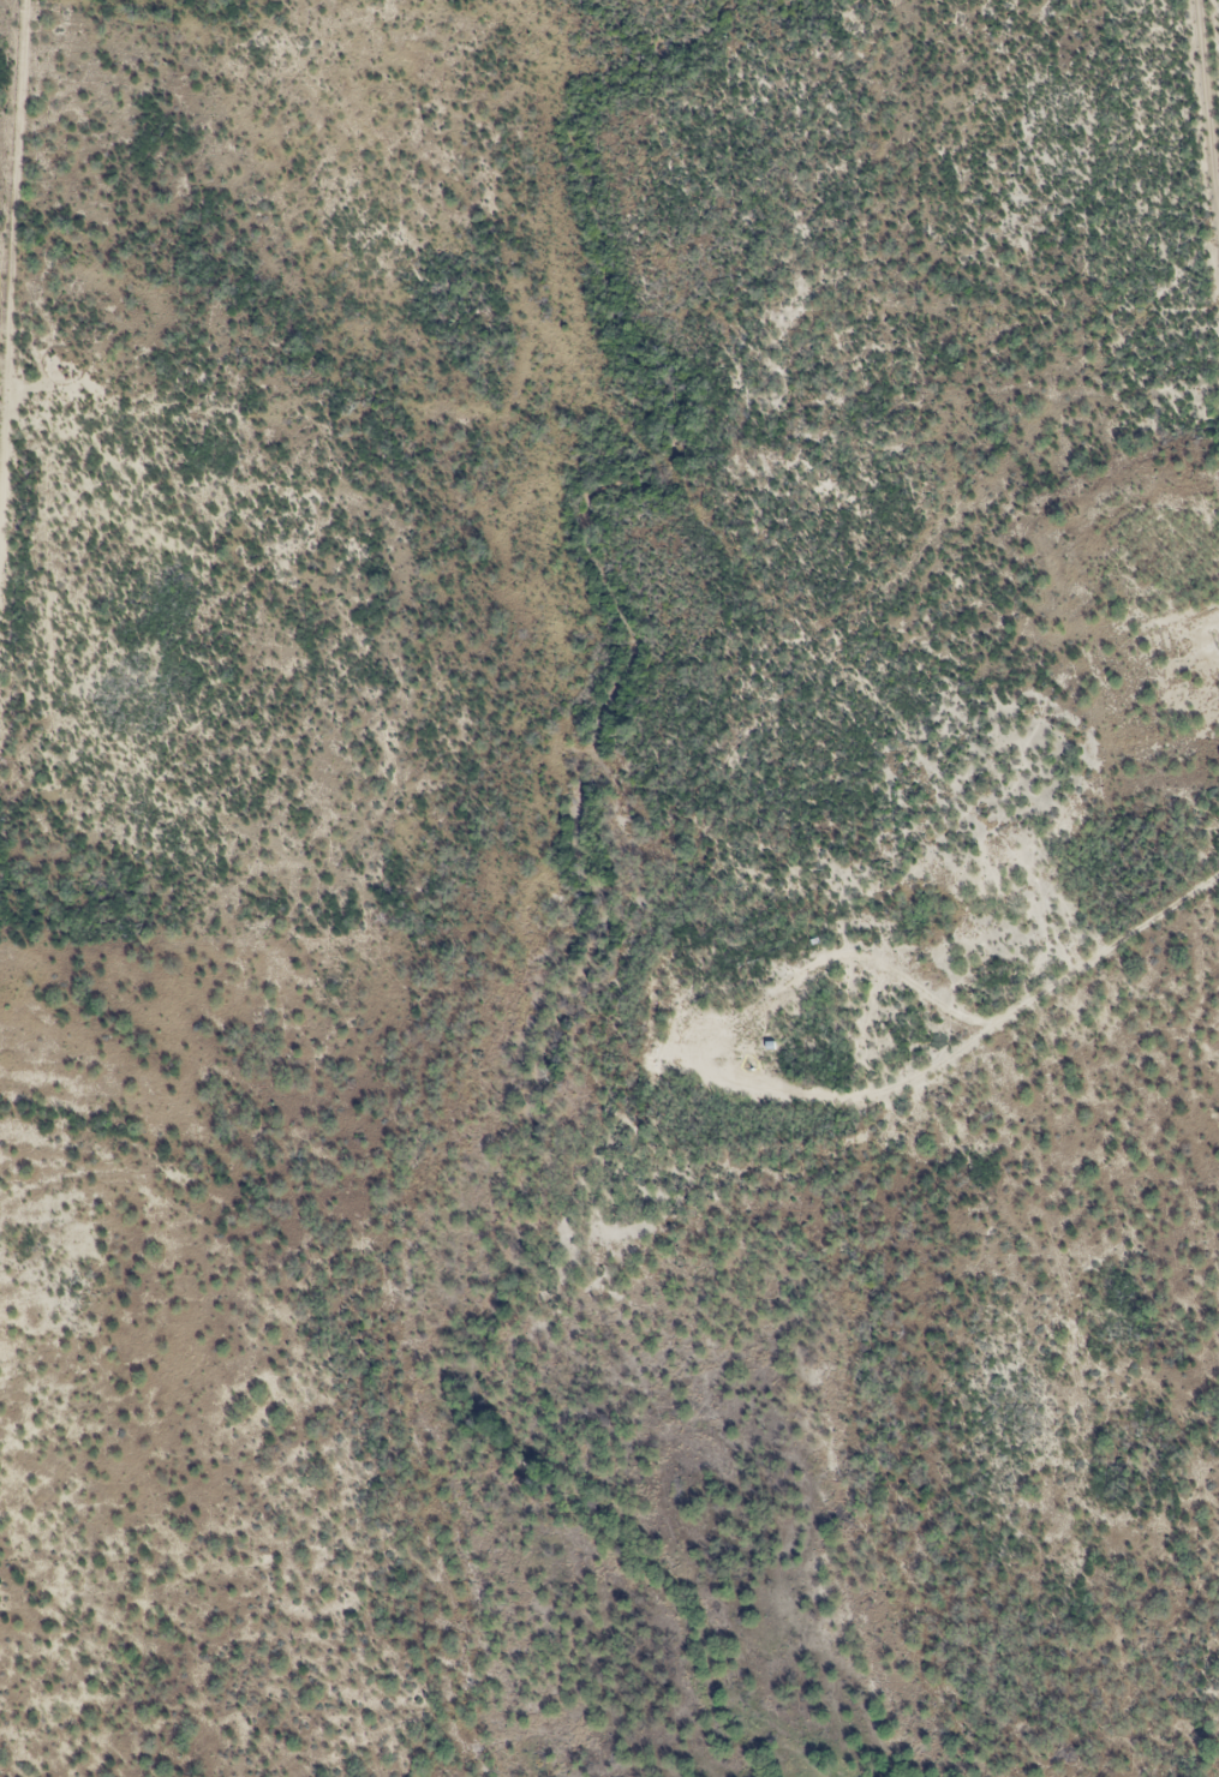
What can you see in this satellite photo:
road: (1185, 196)

